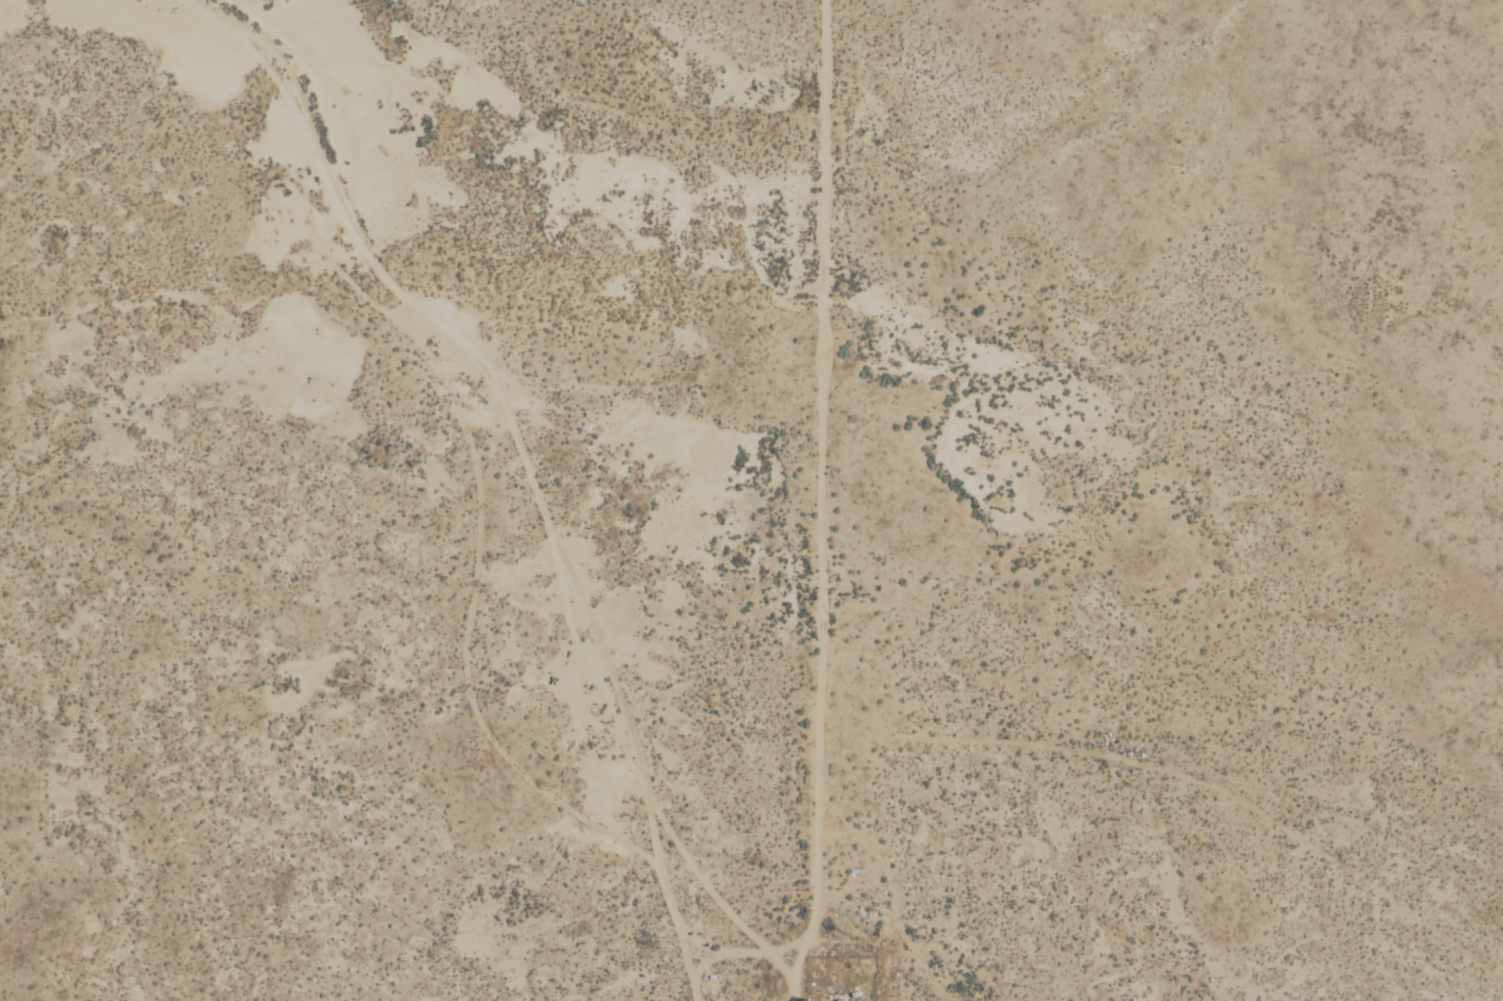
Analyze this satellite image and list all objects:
road: (526, 474)

